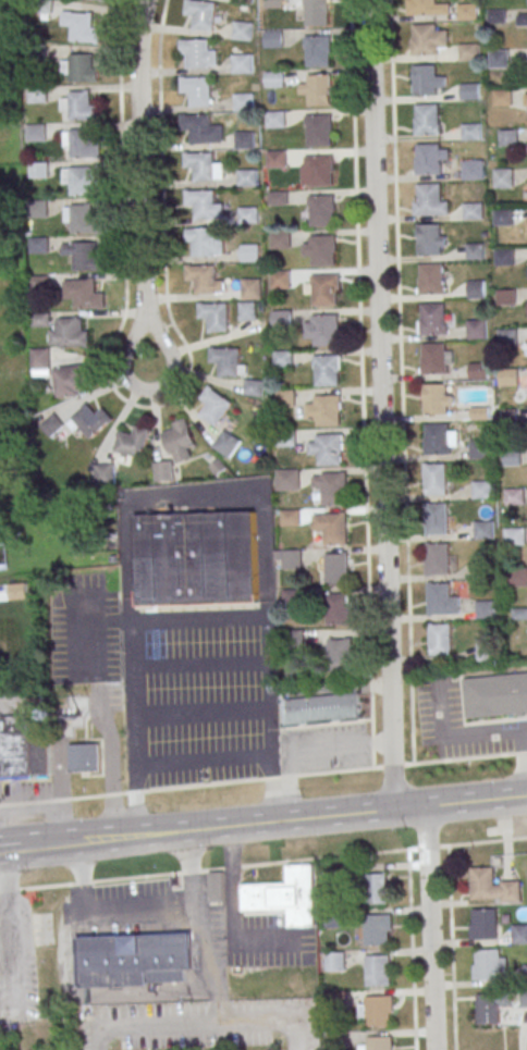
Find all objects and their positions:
building: (102, 0)
building: (243, 1)
building: (526, 2)
building: (273, 4)
building: (42, 7)
building: (427, 8)
building: (467, 12)
building: (317, 13)
building: (201, 14)
building: (497, 16)
building: (522, 18)
building: (83, 28)
building: (242, 32)
building: (429, 39)
building: (273, 40)
building: (318, 51)
building: (469, 52)
building: (36, 53)
building: (196, 53)
building: (499, 59)
building: (242, 65)
building: (83, 69)
building: (274, 81)
building: (427, 81)
building: (319, 89)
building: (197, 90)
building: (469, 91)
building: (37, 95)
building: (502, 98)
building: (244, 102)
building: (82, 107)
building: (277, 120)
building: (427, 120)
building: (203, 131)
building: (320, 131)
building: (471, 132)
building: (35, 134)
building: (5, 137)
building: (508, 138)
building: (245, 140)
building: (83, 145)
road: (140, 158)
building: (430, 158)
building: (278, 160)
building: (200, 166)
building: (38, 170)
building: (473, 170)
building: (318, 171)
building: (247, 178)
building: (502, 178)
building: (84, 182)
road: (162, 182)
building: (279, 198)
building: (431, 200)
building: (203, 203)
building: (38, 210)
building: (322, 211)
building: (471, 212)
building: (248, 217)
building: (503, 218)
building: (84, 220)
building: (282, 239)
building: (430, 239)
building: (206, 242)
building: (38, 246)
building: (323, 250)
building: (475, 251)
road: (124, 254)
building: (250, 254)
building: (86, 257)
building: (503, 257)
building: (203, 279)
building: (431, 279)
building: (281, 280)
building: (39, 284)
building: (252, 288)
building: (475, 289)
building: (324, 291)
building: (83, 293)
building: (505, 297)
building: (248, 310)
building: (215, 317)
building: (432, 319)
building: (41, 320)
building: (283, 320)
building: (326, 330)
building: (476, 330)
building: (70, 334)
building: (506, 338)
road: (148, 341)
building: (41, 359)
building: (433, 359)
building: (283, 360)
building: (226, 362)
building: (327, 371)
building: (478, 371)
building: (507, 378)
building: (71, 380)
road: (401, 382)
road: (360, 384)
building: (254, 387)
building: (285, 399)
building: (437, 399)
road: (380, 405)
building: (215, 406)
building: (328, 409)
building: (478, 413)
building: (507, 418)
building: (91, 420)
building: (52, 425)
building: (286, 438)
building: (437, 440)
building: (180, 441)
building: (133, 442)
building: (226, 445)
building: (479, 449)
building: (330, 450)
building: (511, 457)
building: (163, 471)
building: (105, 474)
building: (287, 480)
building: (436, 480)
building: (333, 489)
building: (481, 491)
road: (189, 495)
building: (514, 497)
building: (290, 519)
building: (437, 519)
building: (331, 528)
building: (482, 530)
building: (515, 536)
building: (196, 559)
building: (291, 559)
building: (436, 559)
building: (336, 568)
building: (483, 571)
building: (517, 578)
building: (292, 600)
building: (437, 600)
building: (336, 609)
building: (483, 610)
building: (293, 640)
building: (439, 640)
building: (485, 653)
building: (338, 656)
building: (494, 695)
parking lot: (198, 696)
building: (323, 709)
parking lot: (459, 725)
road: (470, 725)
road: (469, 733)
building: (15, 748)
parking lot: (323, 749)
building: (40, 756)
building: (84, 757)
road: (263, 780)
road: (272, 820)
road: (467, 845)
road: (9, 847)
road: (303, 862)
building: (332, 881)
road: (5, 882)
building: (217, 886)
building: (492, 887)
building: (376, 889)
building: (285, 895)
road: (233, 909)
road: (144, 911)
building: (335, 919)
building: (485, 926)
road: (429, 927)
building: (377, 931)
building: (519, 935)
road: (204, 940)
road: (451, 949)
building: (133, 960)
building: (335, 963)
building: (486, 965)
building: (378, 972)
building: (525, 975)
road: (95, 993)
road: (217, 999)
building: (523, 999)
building: (336, 1001)
building: (490, 1006)
building: (378, 1012)
road: (270, 1023)
road: (146, 1026)
building: (336, 1041)
building: (379, 1043)

